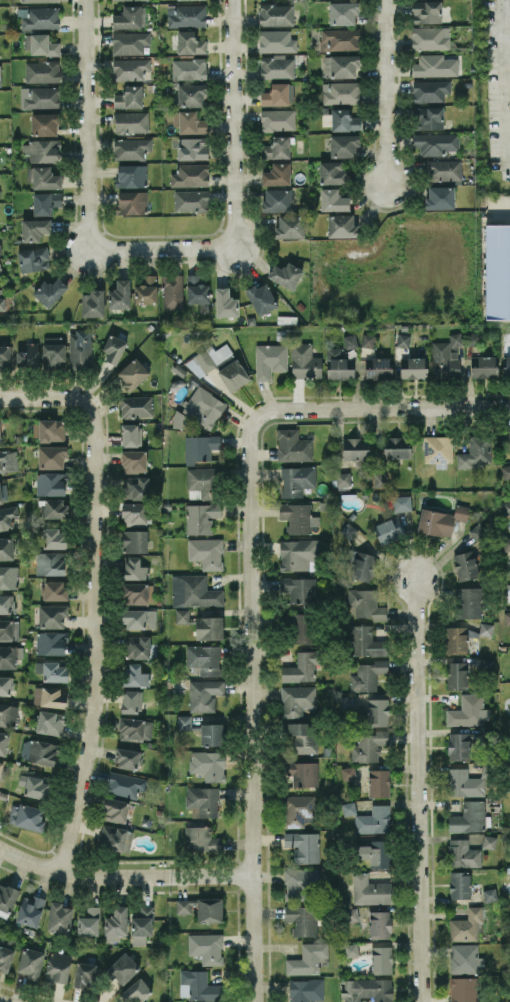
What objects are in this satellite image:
building: (40, 0)
building: (111, 0)
road: (506, 6)
building: (426, 11)
building: (343, 12)
building: (275, 14)
building: (186, 15)
building: (39, 17)
building: (128, 17)
building: (430, 37)
building: (339, 39)
building: (276, 40)
building: (129, 42)
building: (190, 43)
building: (39, 44)
building: (435, 65)
building: (276, 66)
building: (341, 66)
building: (130, 68)
building: (189, 69)
building: (42, 71)
building: (0, 76)
road: (504, 76)
building: (430, 90)
building: (340, 92)
road: (385, 93)
building: (191, 94)
building: (278, 94)
building: (41, 97)
building: (129, 97)
building: (429, 117)
building: (277, 119)
building: (326, 119)
building: (344, 120)
building: (131, 122)
building: (189, 122)
building: (45, 123)
road: (233, 124)
road: (86, 125)
building: (433, 142)
building: (344, 145)
building: (276, 147)
building: (131, 148)
building: (192, 148)
building: (42, 150)
building: (444, 170)
building: (332, 172)
building: (277, 174)
building: (131, 175)
building: (190, 175)
building: (43, 178)
building: (440, 197)
building: (191, 200)
building: (277, 200)
building: (333, 200)
building: (45, 202)
building: (131, 202)
building: (341, 225)
building: (290, 226)
building: (34, 229)
road: (162, 249)
building: (33, 258)
building: (497, 271)
building: (285, 274)
building: (196, 289)
building: (146, 290)
building: (50, 291)
building: (172, 291)
building: (120, 295)
building: (261, 298)
building: (93, 302)
building: (225, 302)
building: (2, 303)
building: (474, 339)
building: (350, 340)
building: (368, 340)
building: (403, 340)
building: (114, 348)
building: (53, 352)
building: (79, 352)
building: (28, 355)
building: (4, 356)
building: (446, 357)
building: (208, 358)
building: (270, 359)
building: (305, 361)
building: (339, 364)
building: (483, 366)
building: (506, 366)
building: (413, 367)
building: (378, 368)
building: (133, 373)
building: (233, 374)
road: (43, 398)
building: (136, 406)
road: (381, 408)
building: (200, 409)
building: (50, 430)
building: (0, 435)
building: (131, 435)
building: (504, 435)
building: (293, 445)
building: (200, 447)
building: (397, 447)
building: (356, 448)
building: (437, 448)
building: (476, 451)
building: (51, 457)
building: (8, 461)
building: (134, 461)
building: (506, 470)
building: (343, 478)
building: (297, 480)
building: (380, 480)
building: (202, 482)
building: (51, 483)
building: (135, 487)
building: (3, 492)
building: (401, 503)
building: (506, 507)
building: (55, 508)
building: (134, 513)
building: (7, 517)
building: (201, 517)
building: (298, 517)
building: (441, 520)
building: (389, 529)
building: (349, 530)
building: (477, 531)
building: (55, 538)
building: (135, 541)
building: (506, 543)
building: (6, 548)
building: (206, 552)
building: (50, 563)
building: (363, 565)
building: (465, 565)
building: (134, 568)
building: (8, 577)
building: (297, 589)
building: (54, 590)
building: (193, 591)
building: (508, 592)
building: (136, 593)
building: (468, 602)
building: (6, 603)
building: (365, 604)
building: (52, 615)
building: (182, 615)
building: (507, 617)
building: (139, 618)
building: (209, 627)
building: (302, 627)
building: (9, 629)
building: (486, 629)
road: (93, 639)
building: (456, 639)
building: (365, 641)
building: (51, 642)
building: (137, 646)
building: (8, 656)
building: (203, 659)
building: (486, 663)
building: (302, 666)
building: (51, 670)
building: (456, 674)
building: (135, 675)
building: (367, 675)
building: (6, 685)
building: (204, 694)
building: (49, 696)
building: (296, 699)
building: (131, 700)
road: (250, 709)
building: (468, 710)
building: (377, 711)
building: (8, 714)
building: (184, 721)
building: (50, 722)
building: (135, 729)
building: (211, 734)
building: (302, 736)
building: (4, 742)
building: (458, 745)
building: (43, 752)
building: (127, 758)
building: (508, 763)
building: (208, 764)
building: (1, 766)
building: (303, 773)
building: (348, 773)
building: (378, 782)
building: (464, 782)
building: (125, 784)
building: (36, 787)
road: (421, 790)
building: (202, 801)
building: (348, 808)
building: (114, 810)
building: (298, 810)
building: (26, 816)
building: (469, 817)
building: (374, 819)
building: (115, 837)
building: (200, 839)
building: (489, 841)
building: (303, 845)
building: (373, 851)
building: (462, 853)
road: (122, 876)
building: (299, 882)
building: (459, 885)
building: (370, 890)
building: (490, 894)
building: (7, 899)
building: (185, 906)
building: (209, 909)
building: (30, 910)
building: (351, 913)
building: (59, 917)
building: (302, 919)
building: (89, 921)
building: (116, 924)
building: (380, 924)
building: (142, 925)
building: (466, 925)
building: (206, 947)
building: (352, 949)
building: (5, 958)
building: (464, 958)
building: (308, 959)
building: (381, 959)
building: (31, 962)
building: (58, 966)
building: (123, 967)
building: (84, 974)
building: (198, 986)
building: (463, 989)
building: (306, 990)
building: (367, 990)
building: (135, 991)

